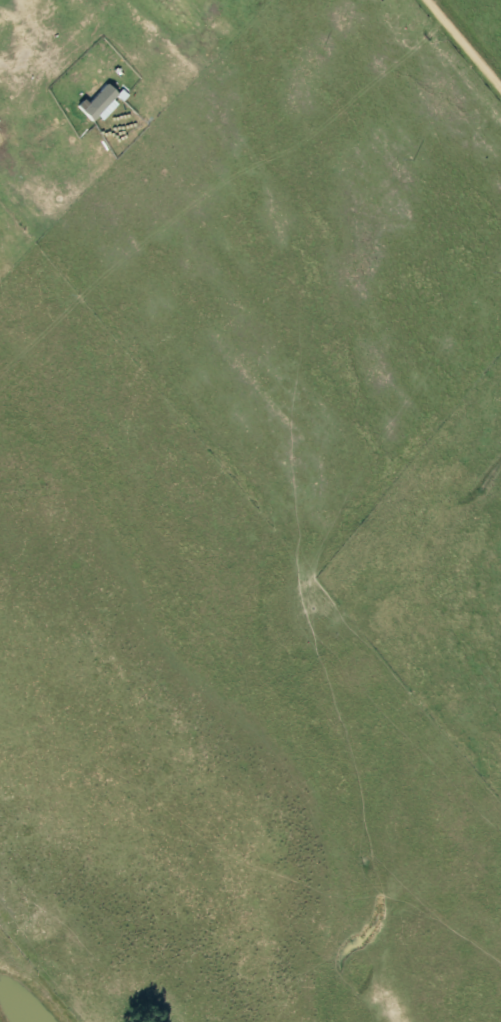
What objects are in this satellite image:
road: (461, 46)
building: (96, 103)

